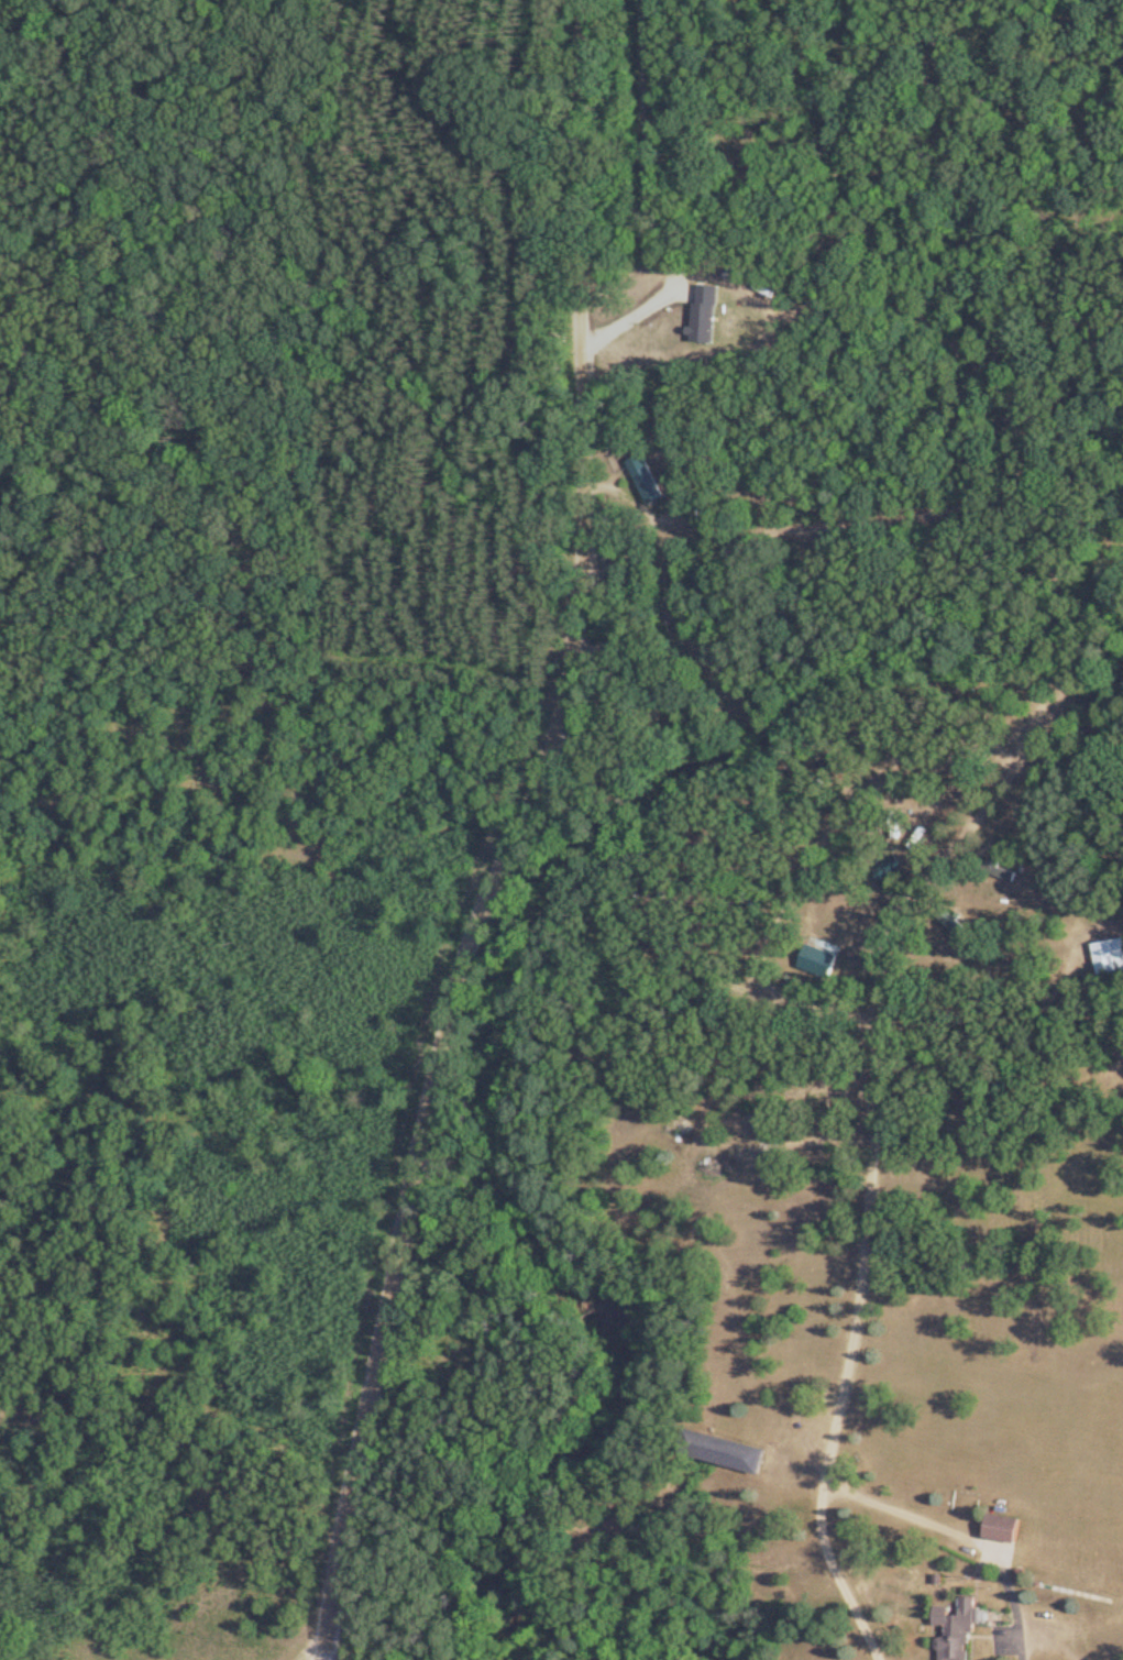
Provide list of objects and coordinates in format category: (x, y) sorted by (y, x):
road: (491, 833)
building: (1107, 956)
building: (999, 1529)
building: (950, 1631)

